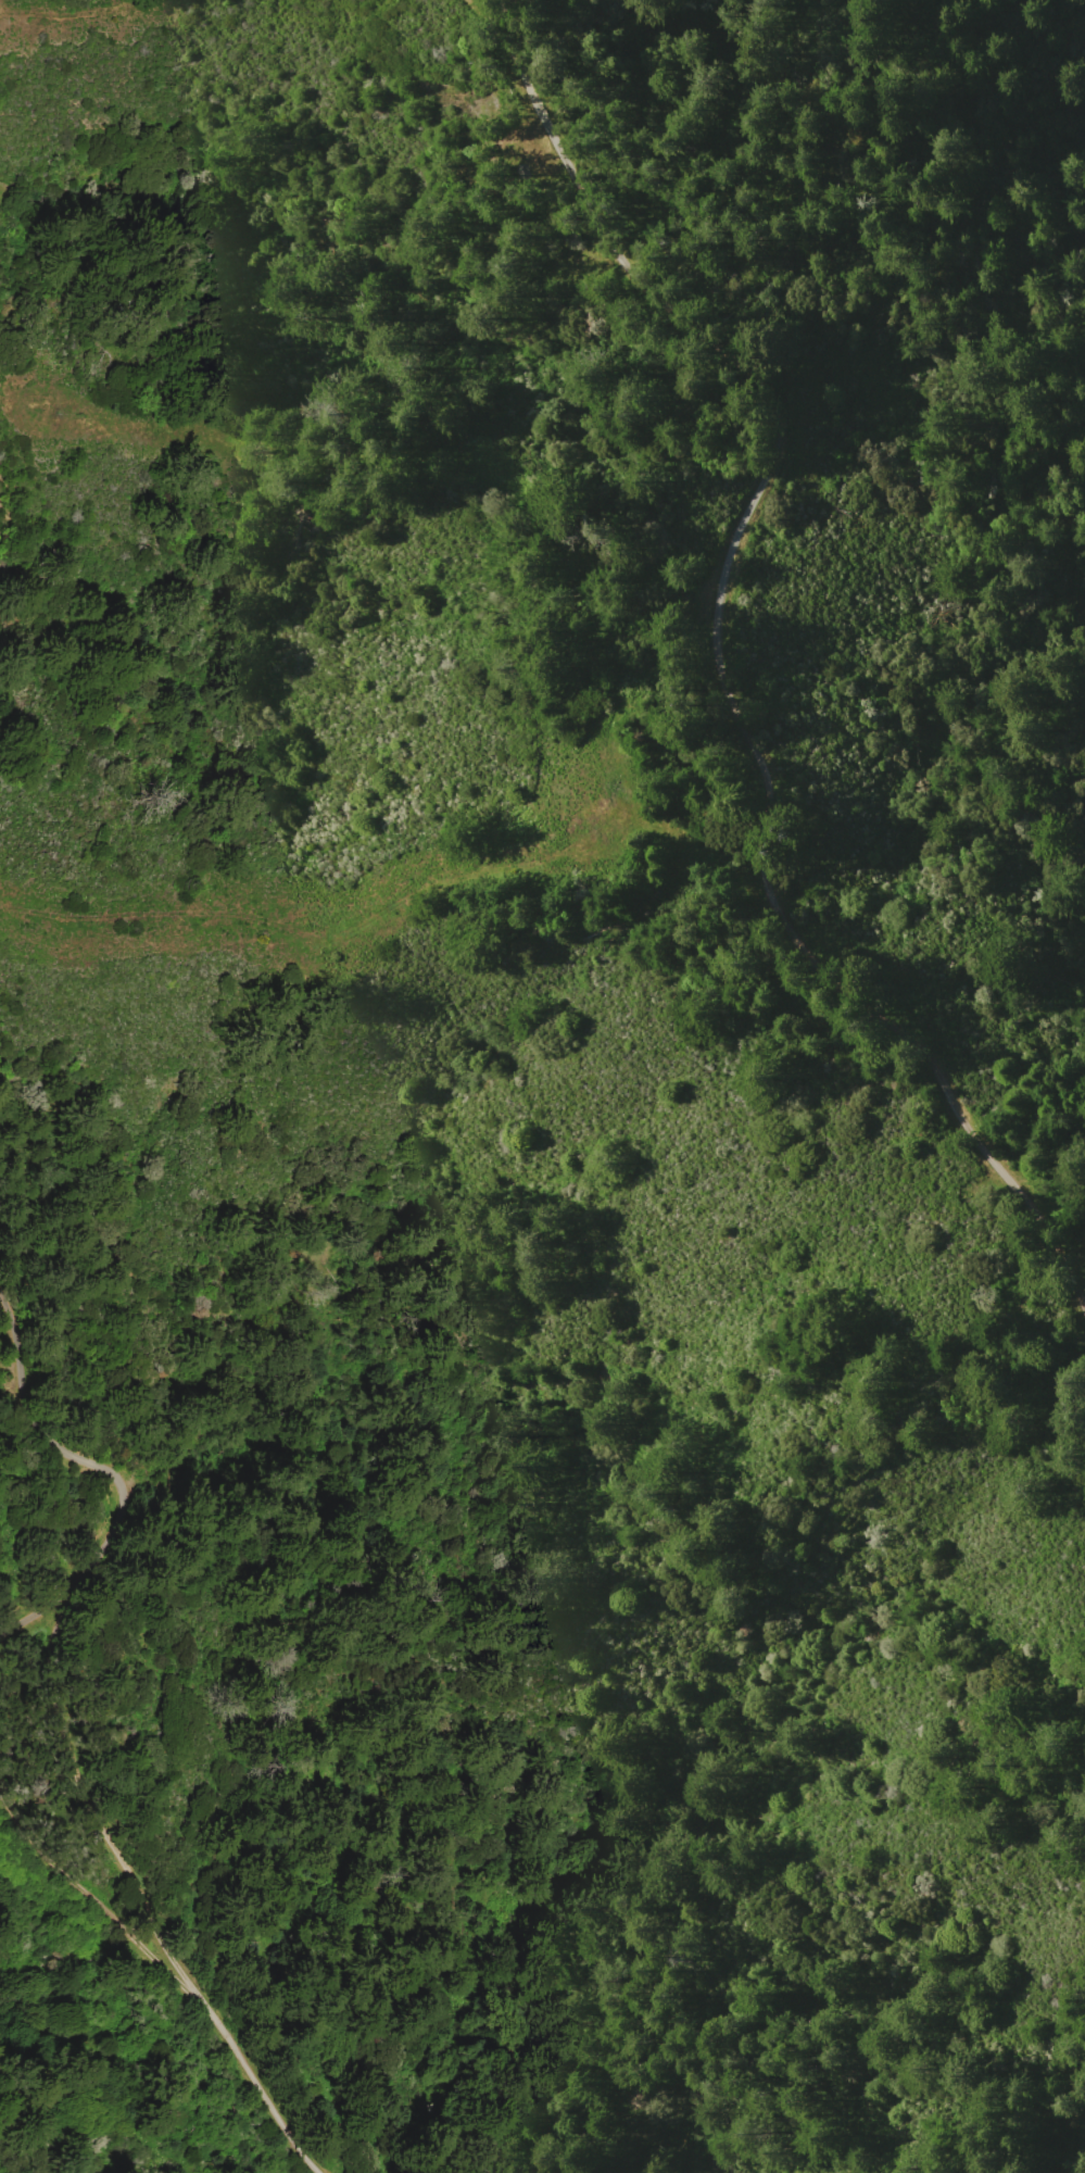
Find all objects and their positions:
road: (722, 653)
road: (41, 1608)
road: (74, 1706)

